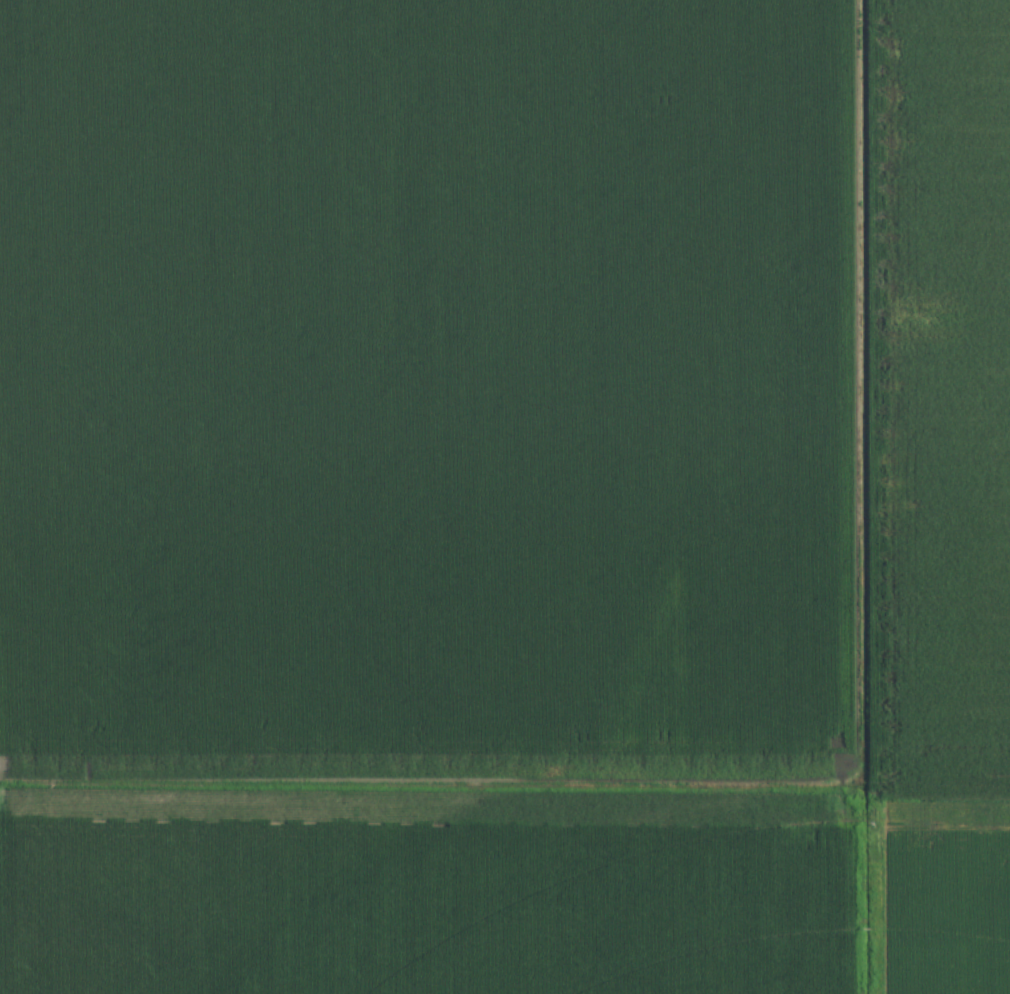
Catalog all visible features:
crop: (505, 497)

